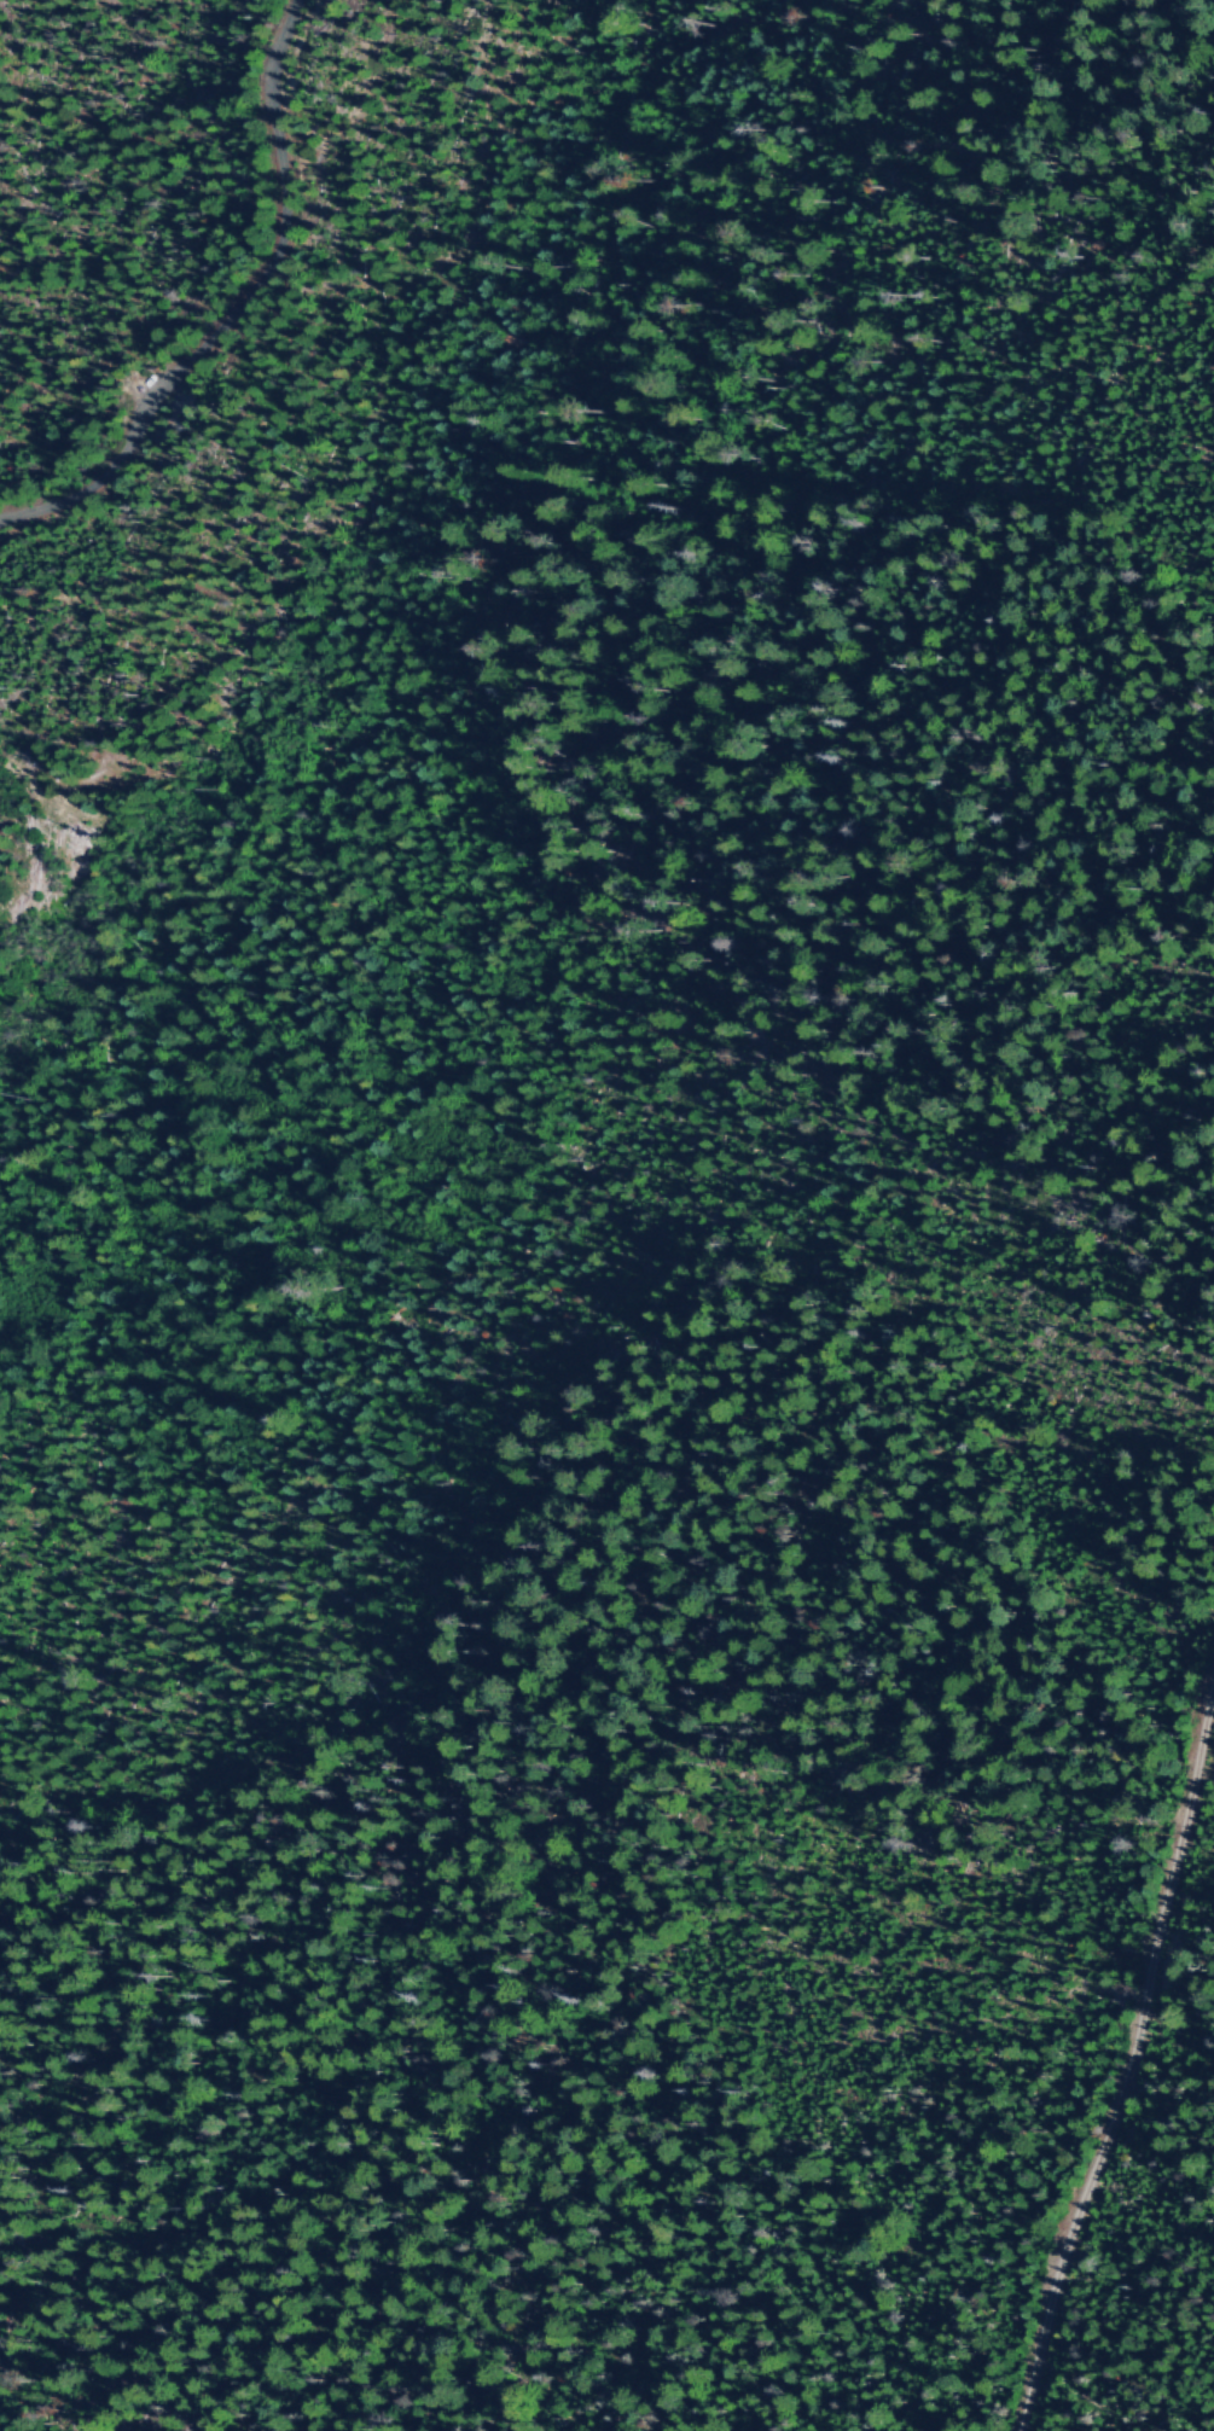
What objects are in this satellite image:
road: (231, 307)
road: (1126, 2034)

